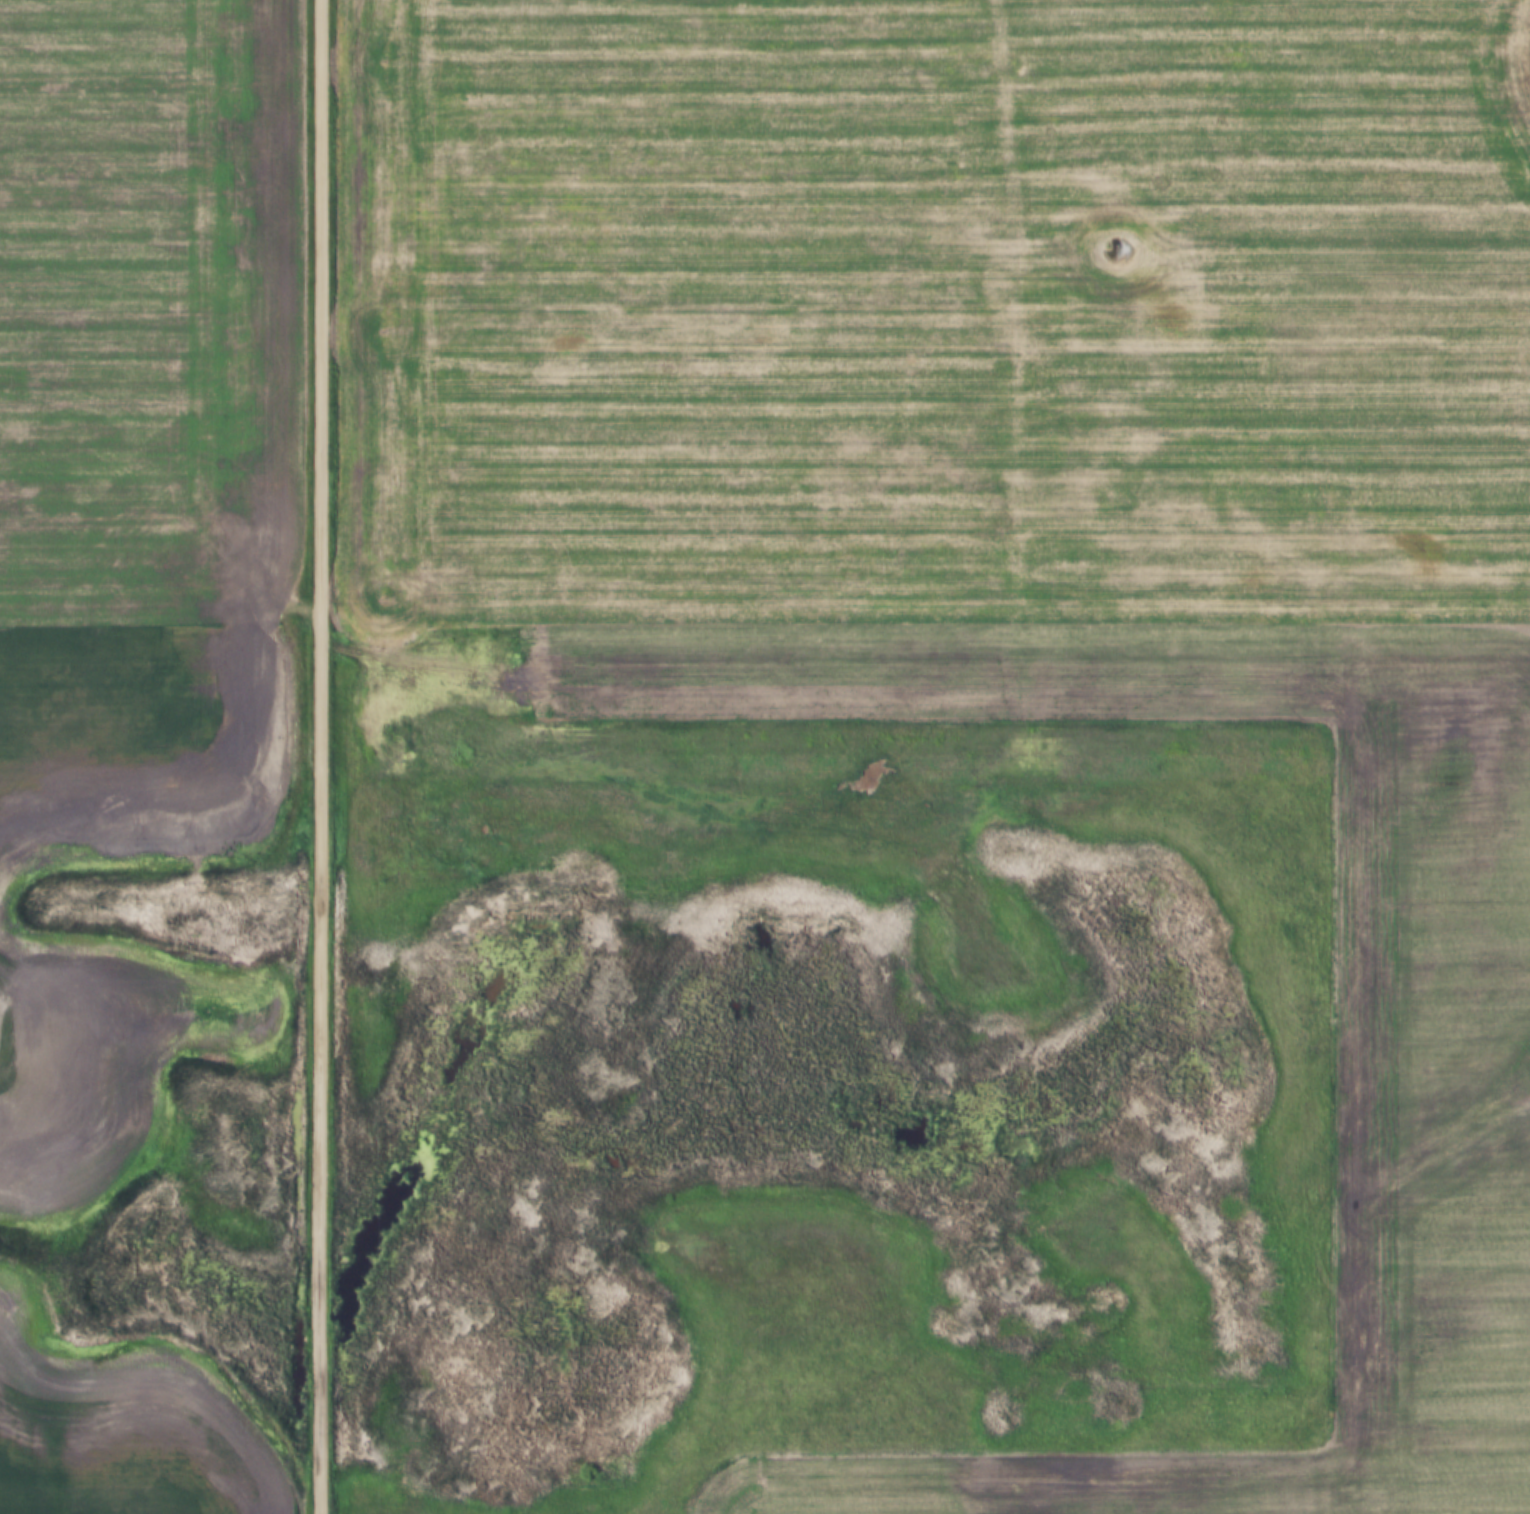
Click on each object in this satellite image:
road: (319, 756)

